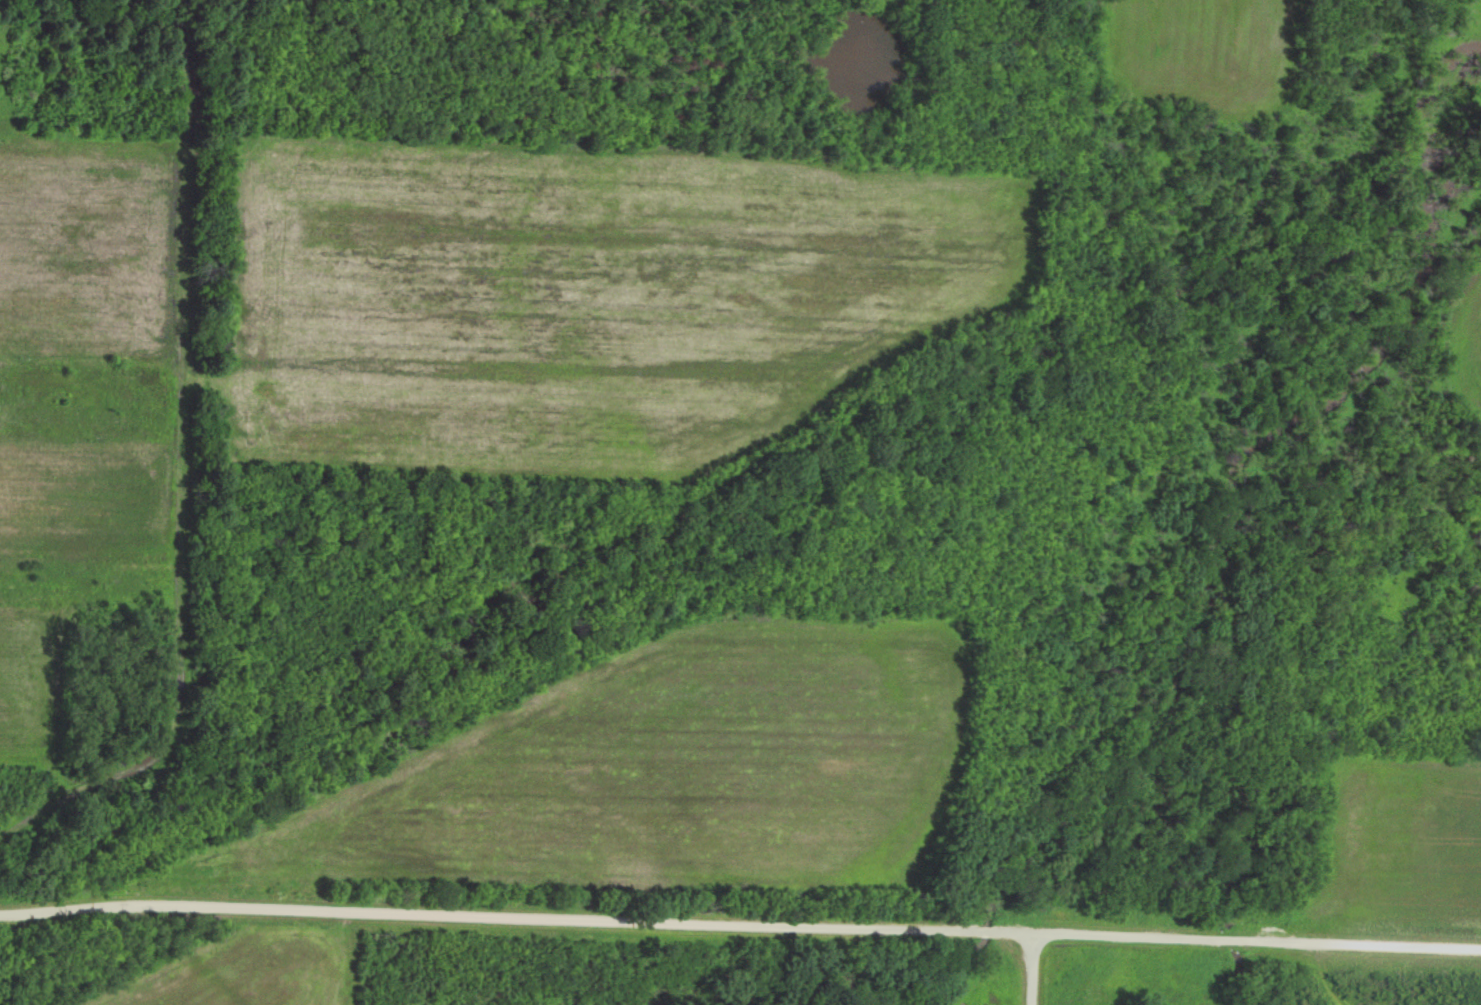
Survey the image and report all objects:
road: (740, 921)
road: (1032, 968)

